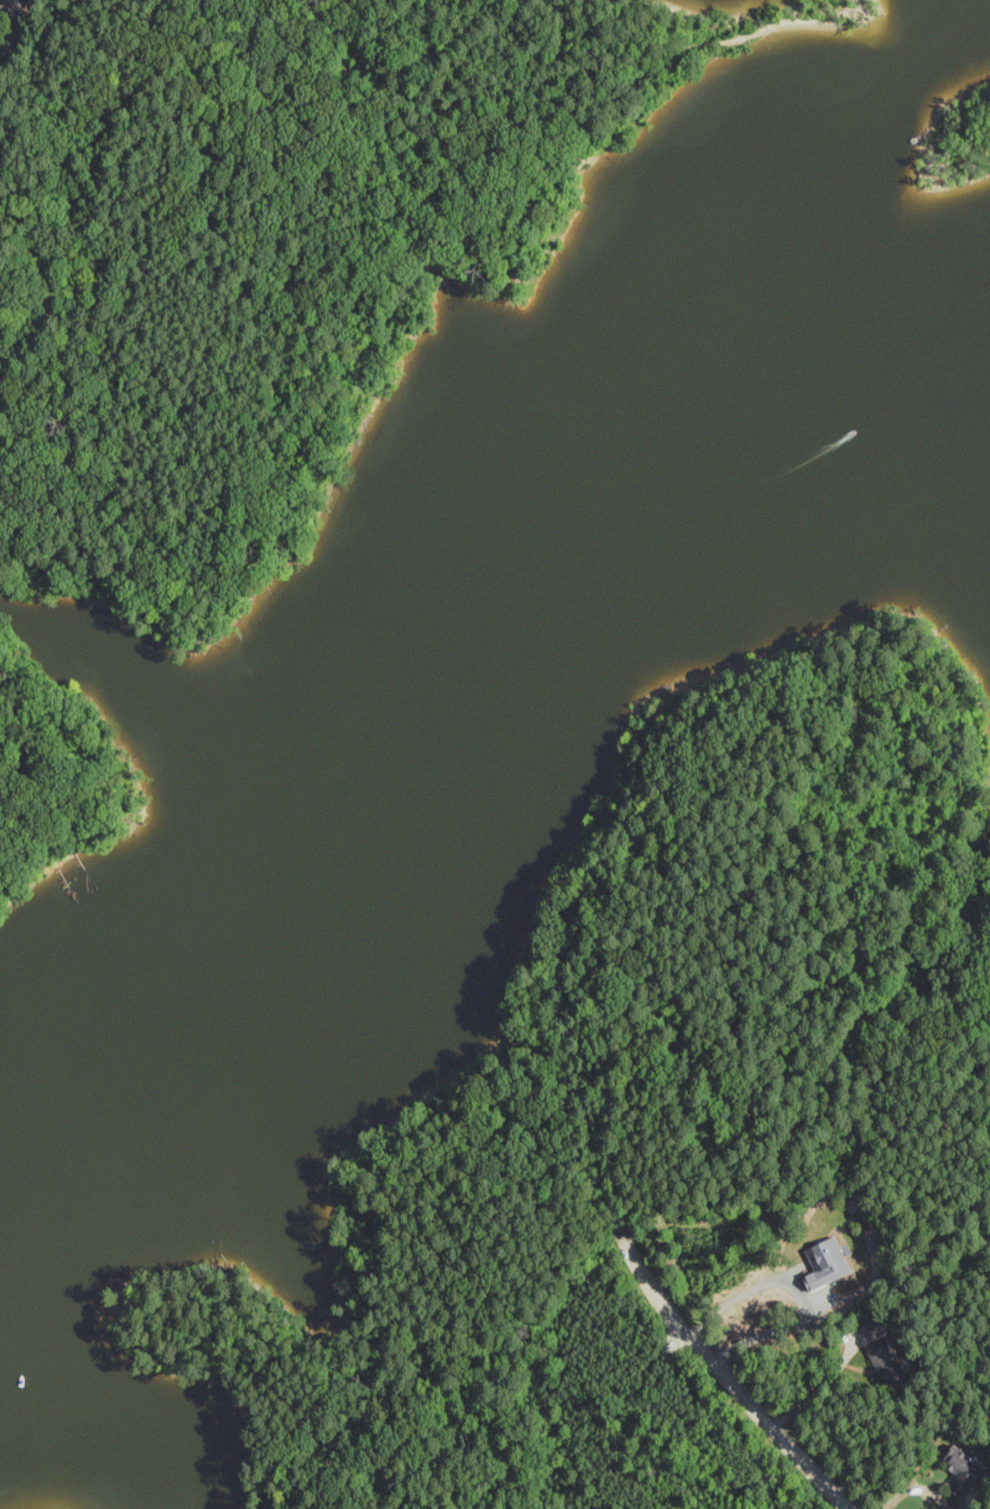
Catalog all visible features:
road: (9, 2)
road: (4, 7)
road: (87, 18)
road: (18, 32)
road: (570, 74)
park: (280, 252)
road: (307, 358)
road: (39, 770)
park: (59, 777)
park: (773, 936)
road: (560, 1103)
building: (828, 1251)
road: (798, 1290)
building: (882, 1354)
road: (728, 1377)
road: (819, 1390)
building: (958, 1469)

